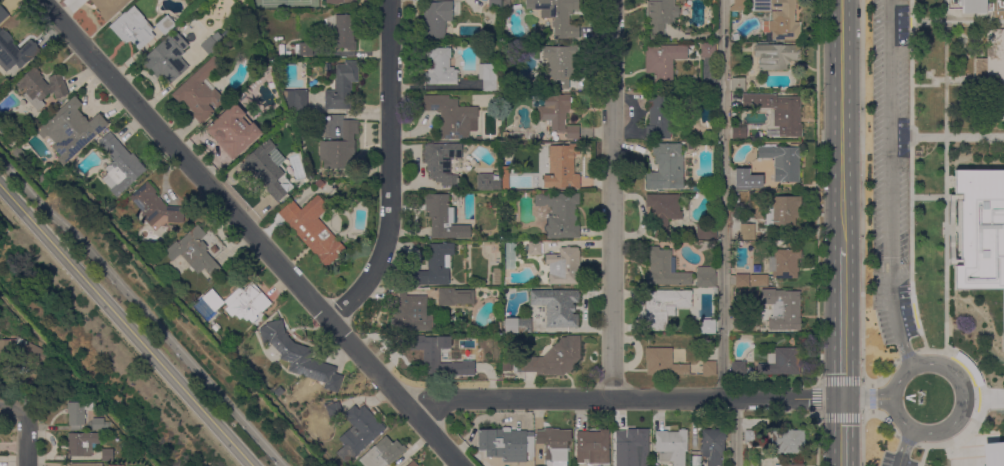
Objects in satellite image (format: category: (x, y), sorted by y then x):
building: (340, 1)
building: (494, 3)
building: (998, 5)
building: (506, 6)
building: (738, 6)
building: (973, 6)
building: (108, 7)
building: (3, 14)
building: (557, 15)
building: (660, 16)
building: (438, 18)
building: (778, 18)
road: (957, 21)
building: (165, 25)
building: (133, 28)
building: (345, 31)
building: (735, 37)
building: (763, 38)
building: (212, 44)
building: (304, 48)
building: (708, 51)
building: (14, 52)
building: (776, 56)
building: (167, 58)
building: (663, 62)
building: (558, 64)
building: (440, 67)
building: (992, 74)
building: (488, 76)
building: (342, 85)
building: (738, 85)
building: (41, 87)
building: (200, 92)
building: (680, 96)
building: (296, 99)
building: (777, 113)
building: (557, 114)
building: (452, 116)
building: (659, 116)
road: (841, 123)
building: (69, 130)
building: (232, 130)
building: (738, 132)
building: (505, 135)
road: (947, 136)
building: (339, 147)
building: (442, 161)
building: (782, 161)
building: (120, 165)
building: (666, 166)
building: (561, 167)
road: (390, 168)
building: (267, 170)
parking lot: (890, 170)
road: (945, 174)
building: (505, 178)
building: (742, 178)
road: (890, 181)
road: (910, 181)
building: (487, 182)
building: (319, 183)
road: (816, 190)
road: (861, 196)
road: (927, 197)
road: (611, 199)
road: (724, 199)
building: (155, 206)
building: (783, 210)
building: (663, 211)
building: (560, 213)
building: (443, 218)
building: (313, 229)
building: (766, 230)
building: (706, 231)
building: (747, 231)
building: (980, 231)
road: (253, 233)
building: (765, 238)
building: (706, 243)
building: (534, 248)
building: (214, 249)
building: (194, 252)
building: (784, 263)
building: (435, 266)
building: (563, 266)
building: (664, 269)
building: (706, 277)
building: (742, 280)
building: (454, 296)
building: (212, 300)
building: (246, 302)
building: (557, 306)
building: (663, 306)
building: (782, 309)
road: (143, 310)
building: (412, 313)
building: (737, 323)
road: (842, 323)
building: (518, 325)
building: (707, 326)
building: (23, 352)
building: (432, 352)
road: (906, 354)
building: (301, 357)
building: (553, 358)
road: (908, 360)
building: (663, 362)
building: (782, 363)
building: (738, 367)
building: (968, 367)
building: (468, 368)
building: (709, 368)
road: (886, 374)
building: (278, 391)
road: (866, 394)
road: (871, 397)
road: (624, 398)
road: (993, 398)
traffic signals: (842, 399)
road: (982, 399)
road: (817, 400)
road: (866, 403)
road: (12, 406)
building: (328, 407)
road: (958, 413)
building: (77, 414)
road: (886, 420)
building: (99, 424)
building: (358, 432)
road: (735, 432)
road: (842, 432)
road: (862, 435)
road: (28, 436)
building: (751, 436)
road: (906, 439)
building: (788, 440)
road: (906, 440)
road: (817, 441)
building: (81, 443)
building: (554, 444)
building: (508, 445)
building: (712, 445)
building: (633, 446)
building: (671, 446)
building: (592, 447)
building: (382, 453)
road: (901, 453)
building: (992, 453)
building: (107, 455)
road: (923, 456)
parking lot: (895, 460)
building: (696, 461)
building: (751, 463)
building: (84, 464)
building: (412, 464)
building: (116, 465)
building: (790, 465)

